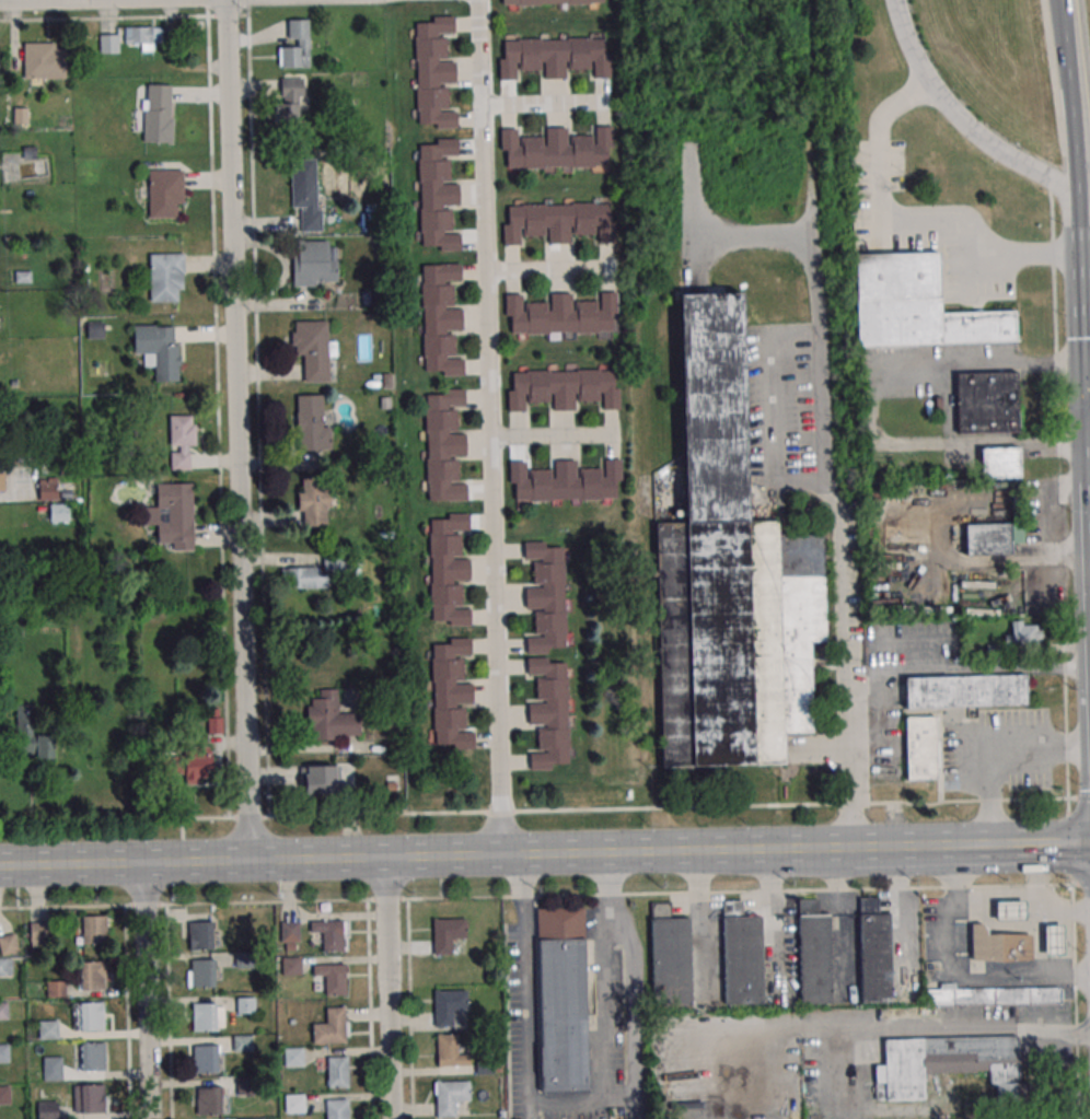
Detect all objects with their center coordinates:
building: (548, 2)
building: (142, 37)
building: (108, 44)
building: (295, 45)
building: (553, 56)
building: (45, 60)
building: (434, 72)
road: (1070, 96)
building: (289, 100)
road: (544, 102)
building: (156, 115)
road: (961, 119)
building: (554, 149)
building: (305, 191)
building: (164, 194)
building: (438, 194)
building: (558, 221)
road: (913, 224)
building: (314, 263)
road: (545, 266)
building: (166, 277)
road: (1081, 291)
building: (916, 304)
building: (560, 314)
building: (441, 319)
building: (313, 348)
building: (159, 349)
road: (987, 362)
building: (563, 388)
road: (1087, 389)
traffic signals: (1083, 391)
building: (985, 401)
road: (778, 410)
building: (311, 421)
road: (489, 427)
road: (236, 430)
road: (554, 435)
building: (181, 440)
building: (444, 444)
building: (998, 462)
road: (1087, 466)
building: (564, 480)
road: (823, 481)
building: (48, 490)
road: (16, 491)
building: (314, 501)
building: (58, 511)
building: (173, 515)
building: (990, 538)
building: (336, 561)
building: (449, 569)
building: (379, 575)
building: (729, 575)
building: (302, 578)
building: (1034, 595)
building: (546, 597)
building: (1024, 632)
road: (913, 641)
road: (966, 669)
building: (451, 692)
building: (967, 692)
building: (549, 712)
building: (331, 718)
building: (32, 737)
building: (921, 750)
road: (995, 754)
building: (190, 765)
building: (321, 779)
road: (545, 809)
road: (972, 843)
road: (427, 856)
road: (1041, 895)
road: (996, 897)
road: (387, 899)
road: (146, 904)
road: (62, 906)
building: (1011, 912)
building: (91, 930)
building: (38, 931)
building: (328, 933)
building: (200, 934)
building: (447, 934)
building: (289, 935)
building: (1055, 942)
building: (8, 944)
building: (999, 947)
building: (874, 957)
building: (242, 959)
building: (814, 959)
building: (742, 960)
building: (670, 961)
building: (291, 965)
building: (5, 966)
building: (201, 972)
building: (92, 975)
road: (955, 975)
building: (332, 977)
road: (627, 983)
road: (529, 987)
road: (390, 988)
road: (147, 990)
building: (994, 995)
building: (561, 1000)
building: (245, 1005)
building: (448, 1005)
building: (3, 1010)
building: (91, 1015)
building: (204, 1016)
building: (331, 1026)
building: (48, 1028)
road: (860, 1028)
building: (242, 1042)
building: (450, 1051)
building: (3, 1052)
building: (293, 1056)
building: (92, 1057)
building: (205, 1059)
building: (947, 1063)
building: (51, 1068)
building: (337, 1071)
building: (4, 1095)
building: (450, 1096)
building: (91, 1098)
building: (208, 1099)
building: (294, 1104)
building: (336, 1109)
building: (47, 1110)
building: (256, 1118)

